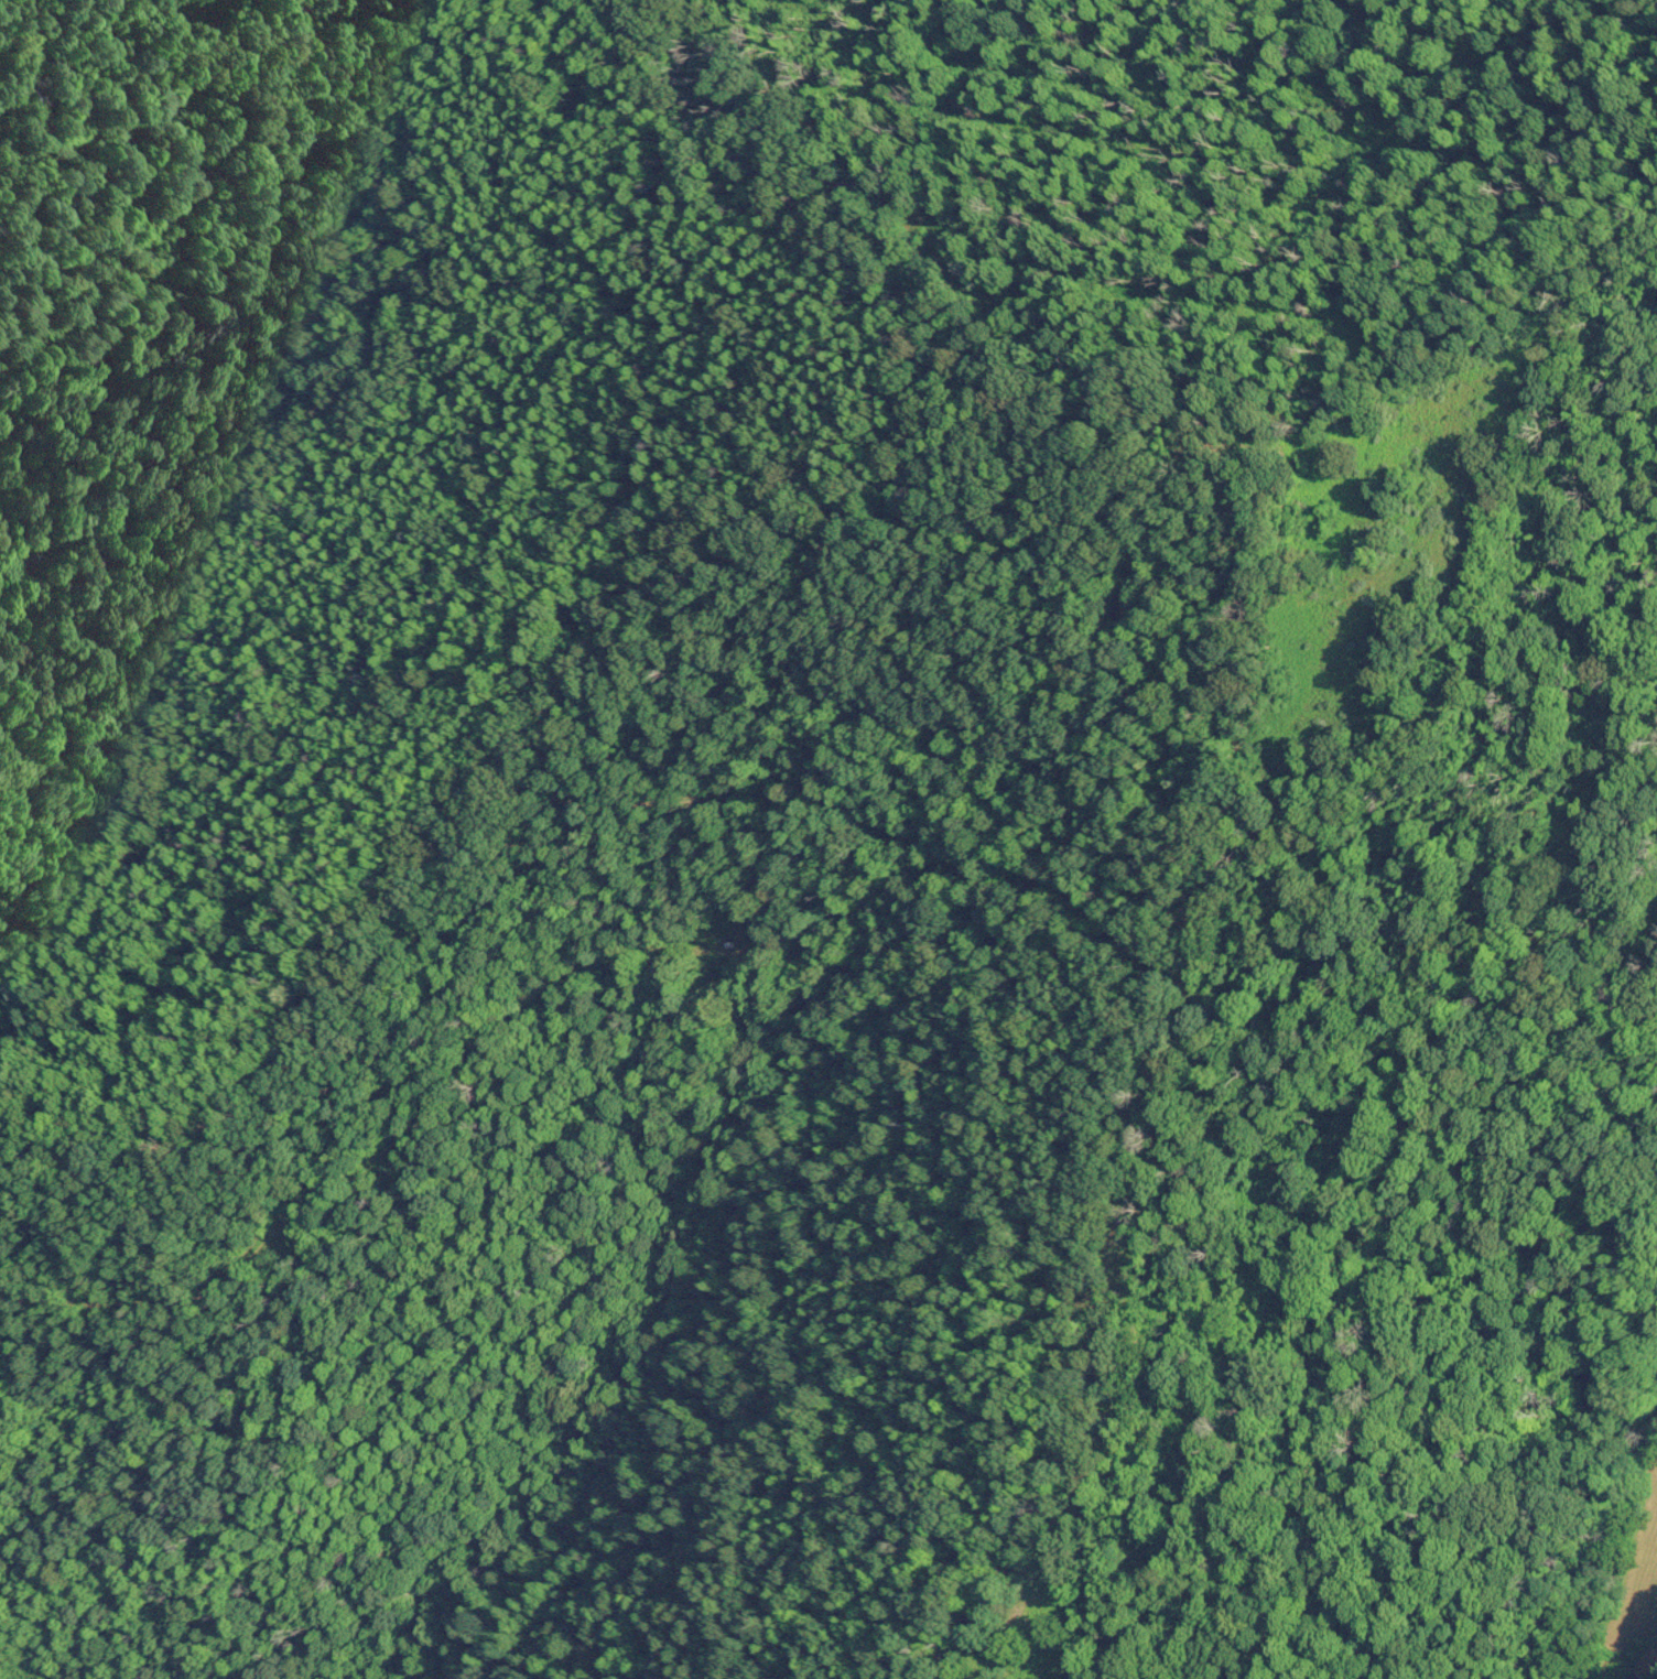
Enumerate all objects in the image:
road: (53, 1230)

